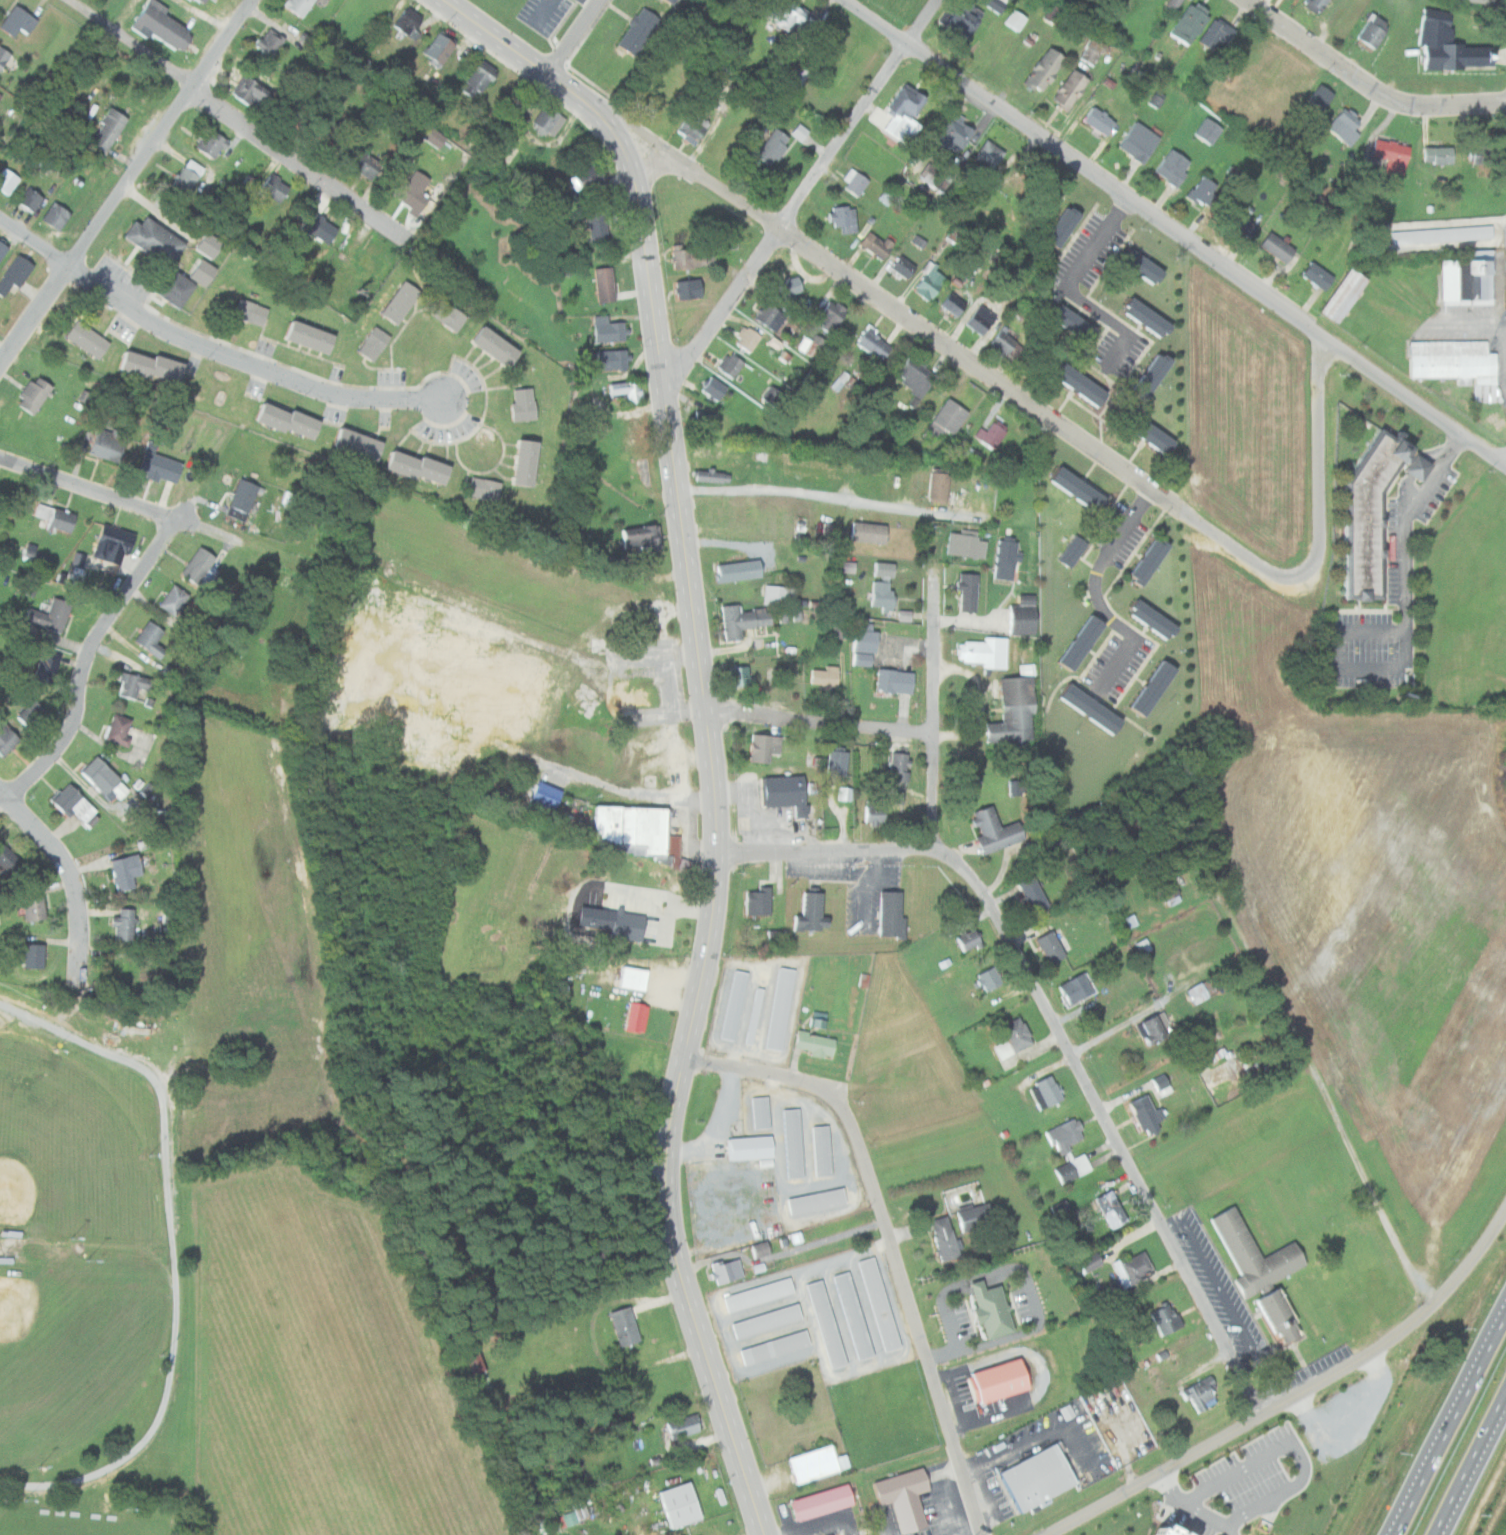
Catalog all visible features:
building: (196, 1)
building: (204, 1)
building: (664, 1)
building: (672, 1)
building: (1478, 1)
building: (1173, 4)
building: (1316, 4)
building: (998, 5)
building: (300, 6)
building: (793, 16)
building: (965, 19)
building: (1016, 19)
building: (17, 21)
building: (1191, 21)
building: (407, 25)
building: (163, 26)
building: (1373, 30)
building: (640, 31)
building: (1217, 34)
road: (571, 35)
building: (270, 42)
building: (1450, 44)
building: (438, 49)
building: (1088, 52)
building: (3, 57)
road: (546, 70)
building: (1046, 70)
building: (792, 78)
building: (476, 81)
road: (1369, 84)
building: (1072, 89)
building: (252, 92)
building: (0, 95)
building: (1318, 101)
building: (898, 111)
road: (236, 116)
building: (548, 120)
building: (1102, 120)
building: (689, 127)
building: (108, 128)
building: (1345, 128)
building: (1207, 130)
building: (797, 131)
building: (947, 135)
building: (429, 136)
building: (1140, 142)
building: (214, 144)
building: (769, 146)
building: (984, 154)
building: (1390, 154)
building: (1484, 154)
building: (1439, 155)
building: (367, 165)
building: (1174, 167)
building: (187, 176)
building: (587, 178)
building: (7, 180)
road: (126, 181)
building: (852, 182)
building: (274, 188)
building: (1206, 191)
road: (802, 192)
building: (30, 199)
building: (413, 199)
building: (56, 215)
building: (841, 217)
building: (1237, 220)
building: (1071, 224)
building: (1056, 225)
building: (598, 228)
building: (322, 230)
road: (1175, 232)
building: (155, 240)
building: (725, 241)
building: (873, 244)
building: (209, 245)
building: (1279, 247)
building: (3, 248)
building: (686, 258)
building: (899, 265)
building: (1149, 265)
road: (1094, 266)
building: (203, 272)
building: (14, 273)
building: (1318, 276)
building: (1462, 278)
building: (926, 281)
building: (605, 284)
building: (788, 286)
building: (175, 288)
building: (689, 289)
building: (1345, 295)
building: (400, 302)
building: (950, 303)
building: (251, 312)
building: (831, 315)
building: (449, 316)
building: (770, 316)
building: (1140, 317)
building: (1155, 317)
building: (977, 318)
building: (1080, 321)
building: (1066, 322)
road: (918, 323)
building: (610, 330)
building: (312, 337)
building: (747, 338)
building: (88, 339)
building: (998, 341)
road: (1141, 341)
building: (874, 343)
building: (374, 344)
building: (812, 345)
parking lot: (1129, 346)
building: (498, 347)
road: (205, 348)
building: (613, 359)
building: (1458, 363)
building: (730, 364)
building: (154, 366)
building: (1157, 374)
building: (915, 375)
building: (1144, 377)
building: (837, 380)
building: (1086, 383)
building: (714, 388)
building: (627, 390)
building: (34, 394)
building: (772, 395)
building: (524, 404)
building: (947, 418)
building: (705, 420)
building: (290, 421)
building: (1158, 430)
building: (1143, 433)
building: (992, 434)
building: (108, 444)
building: (360, 445)
road: (1457, 445)
building: (704, 448)
building: (528, 462)
building: (161, 467)
building: (421, 467)
road: (1420, 467)
building: (711, 475)
building: (1087, 483)
road: (89, 487)
building: (940, 487)
building: (1070, 487)
building: (485, 488)
parking lot: (1446, 491)
building: (243, 496)
road: (835, 500)
road: (1401, 504)
building: (1374, 507)
building: (57, 518)
road: (1324, 527)
building: (869, 532)
parking lot: (1134, 533)
road: (1386, 536)
building: (640, 539)
building: (967, 544)
building: (117, 545)
building: (1083, 548)
building: (1069, 550)
parking lot: (1400, 554)
building: (1007, 559)
building: (1158, 559)
building: (1141, 561)
building: (764, 564)
road: (1112, 564)
building: (846, 566)
building: (200, 568)
building: (885, 569)
building: (740, 570)
building: (969, 592)
building: (883, 594)
building: (173, 599)
road: (1408, 600)
road: (1369, 610)
building: (1023, 614)
building: (52, 615)
building: (1160, 618)
building: (1147, 619)
building: (743, 620)
building: (150, 638)
building: (1090, 641)
building: (1074, 642)
building: (865, 645)
parking lot: (1373, 650)
building: (982, 651)
parking lot: (1130, 657)
road: (1129, 660)
road: (85, 662)
building: (47, 667)
building: (742, 675)
building: (824, 677)
building: (895, 680)
building: (132, 684)
building: (1160, 685)
building: (1146, 687)
building: (1097, 705)
building: (1084, 708)
building: (1015, 712)
building: (32, 714)
road: (933, 714)
road: (818, 721)
building: (122, 731)
building: (6, 738)
building: (766, 747)
building: (838, 762)
building: (900, 766)
building: (103, 777)
building: (785, 793)
building: (843, 793)
building: (895, 796)
road: (2, 797)
building: (540, 798)
building: (75, 805)
building: (875, 809)
building: (635, 830)
building: (995, 830)
road: (718, 849)
road: (828, 852)
building: (6, 857)
road: (1211, 869)
building: (125, 870)
road: (72, 874)
building: (1165, 890)
building: (1034, 894)
building: (759, 902)
building: (34, 907)
building: (812, 910)
building: (892, 914)
building: (124, 924)
building: (621, 925)
building: (778, 936)
building: (968, 939)
building: (1143, 945)
building: (1052, 947)
building: (34, 955)
building: (629, 978)
building: (989, 978)
building: (1076, 989)
building: (1198, 993)
building: (732, 1004)
building: (781, 1009)
building: (755, 1015)
building: (632, 1017)
building: (1155, 1030)
building: (1018, 1034)
building: (816, 1044)
building: (1163, 1084)
building: (1047, 1092)
building: (761, 1113)
building: (1146, 1116)
road: (1111, 1124)
road: (1343, 1130)
park: (72, 1143)
building: (794, 1143)
building: (752, 1148)
building: (823, 1151)
building: (1069, 1151)
building: (817, 1201)
building: (1112, 1209)
building: (977, 1216)
road: (891, 1238)
building: (947, 1240)
road: (184, 1250)
building: (762, 1250)
building: (1258, 1252)
park: (102, 1258)
building: (1090, 1261)
building: (1138, 1266)
building: (728, 1270)
building: (756, 1294)
building: (877, 1304)
building: (994, 1308)
building: (851, 1315)
building: (1283, 1315)
building: (1168, 1318)
building: (765, 1320)
building: (824, 1323)
building: (621, 1326)
building: (772, 1346)
building: (804, 1350)
park: (75, 1352)
building: (469, 1358)
park: (71, 1363)
building: (1001, 1380)
building: (1205, 1394)
road: (1295, 1397)
road: (1447, 1421)
building: (680, 1427)
building: (813, 1463)
road: (1470, 1464)
building: (1038, 1477)
road: (0, 1482)
building: (900, 1497)
building: (817, 1502)
building: (675, 1505)
road: (1193, 1508)
building: (572, 1514)
park: (86, 1524)
road: (882, 1524)
road: (967, 1530)
building: (1148, 1531)

